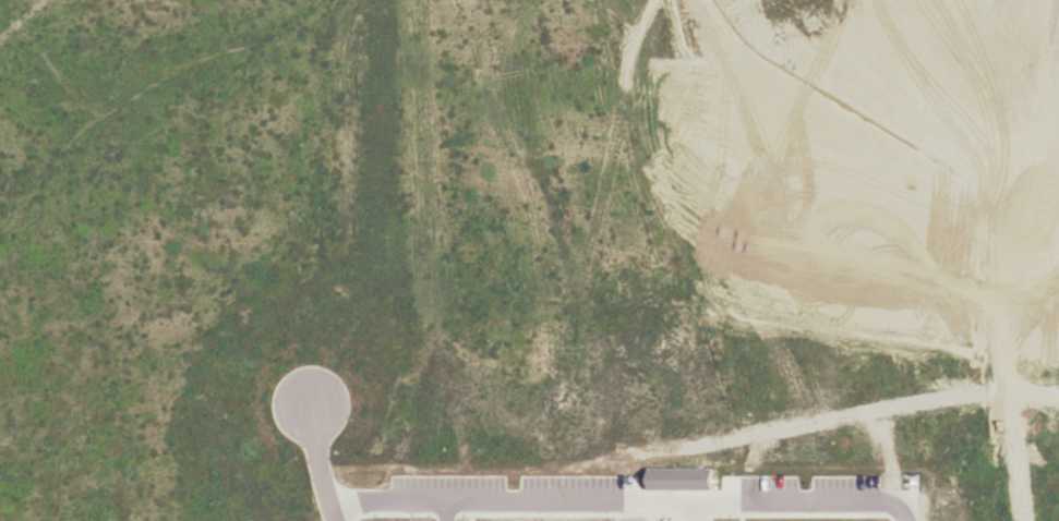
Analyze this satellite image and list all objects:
road: (317, 461)
road: (622, 500)
road: (443, 510)

